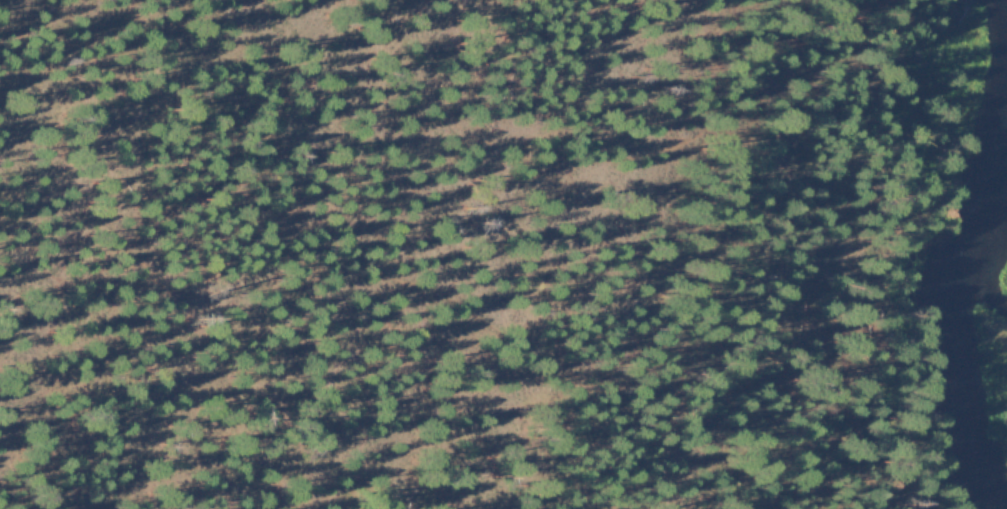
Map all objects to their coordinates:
river: (931, 267)

